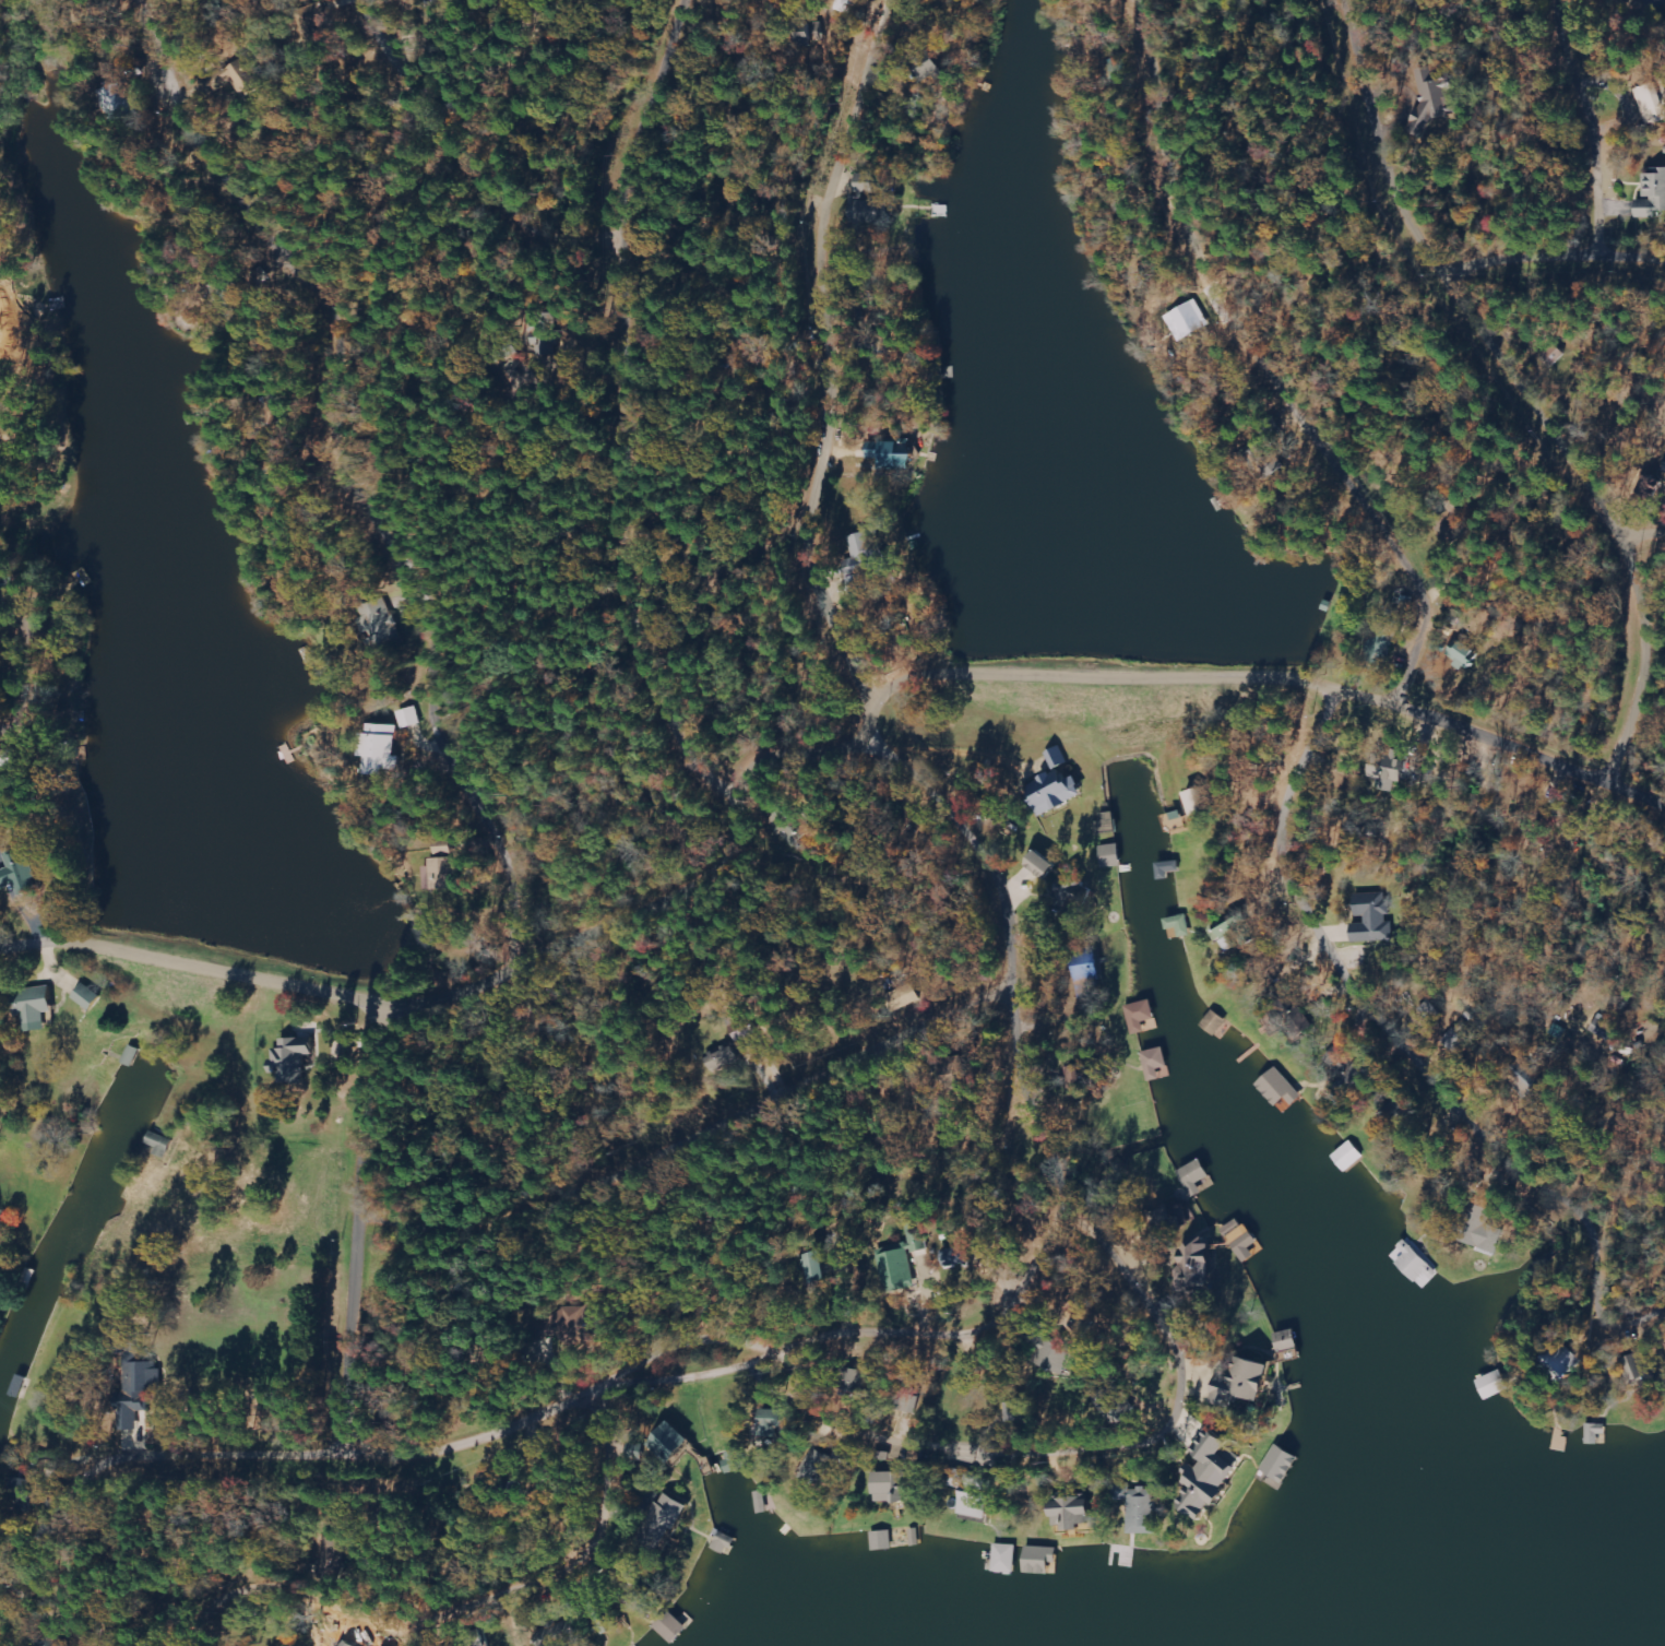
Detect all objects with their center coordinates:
building: (441, 0)
building: (847, 5)
building: (243, 76)
building: (1435, 100)
building: (1652, 104)
road: (1592, 115)
road: (634, 119)
road: (464, 145)
road: (863, 163)
building: (866, 183)
building: (1653, 194)
road: (1182, 203)
building: (870, 211)
road: (1638, 236)
road: (1527, 254)
road: (1287, 342)
road: (828, 352)
road: (1526, 382)
building: (892, 455)
road: (849, 474)
road: (330, 477)
road: (1348, 500)
road: (614, 544)
building: (863, 559)
road: (865, 624)
building: (378, 626)
road: (1376, 628)
road: (1657, 640)
building: (1463, 655)
road: (998, 661)
building: (408, 719)
building: (380, 750)
road: (946, 754)
building: (1387, 768)
road: (1638, 782)
building: (1055, 784)
building: (1199, 800)
building: (790, 826)
building: (1108, 855)
building: (1039, 864)
building: (441, 867)
building: (20, 873)
building: (1373, 917)
road: (1327, 951)
road: (1026, 957)
building: (1085, 967)
road: (257, 969)
building: (87, 996)
building: (904, 997)
building: (35, 1007)
building: (1142, 1017)
road: (1406, 1026)
building: (293, 1058)
building: (719, 1058)
road: (1417, 1061)
building: (1154, 1063)
building: (1279, 1088)
road: (1463, 1113)
road: (690, 1124)
road: (1541, 1137)
building: (159, 1145)
road: (1065, 1161)
building: (1193, 1175)
road: (1551, 1189)
road: (352, 1223)
building: (1484, 1230)
building: (1242, 1240)
building: (955, 1257)
building: (901, 1262)
building: (1196, 1265)
building: (809, 1266)
road: (1590, 1274)
road: (1003, 1282)
road: (1170, 1284)
building: (573, 1323)
road: (1661, 1324)
road: (833, 1337)
road: (959, 1338)
building: (1057, 1358)
building: (1565, 1360)
building: (1640, 1366)
building: (146, 1377)
building: (855, 1382)
building: (1241, 1384)
road: (1163, 1393)
building: (909, 1404)
road: (814, 1411)
building: (139, 1422)
building: (770, 1423)
road: (994, 1430)
building: (1595, 1433)
road: (860, 1437)
building: (668, 1442)
road: (1108, 1446)
road: (1165, 1450)
road: (939, 1453)
road: (1035, 1460)
building: (1281, 1464)
building: (814, 1466)
road: (1105, 1466)
building: (1209, 1476)
building: (891, 1487)
road: (567, 1494)
building: (974, 1505)
building: (1144, 1512)
building: (1071, 1513)
building: (664, 1524)
building: (882, 1540)
road: (564, 1552)
road: (139, 1554)
road: (154, 1554)
building: (1004, 1559)
road: (526, 1610)
road: (462, 1622)
road: (314, 1625)
building: (673, 1629)
building: (552, 1634)
road: (414, 1638)
road: (251, 1641)
road: (255, 1641)
road: (156, 1644)
building: (475, 1644)
road: (350, 1645)

